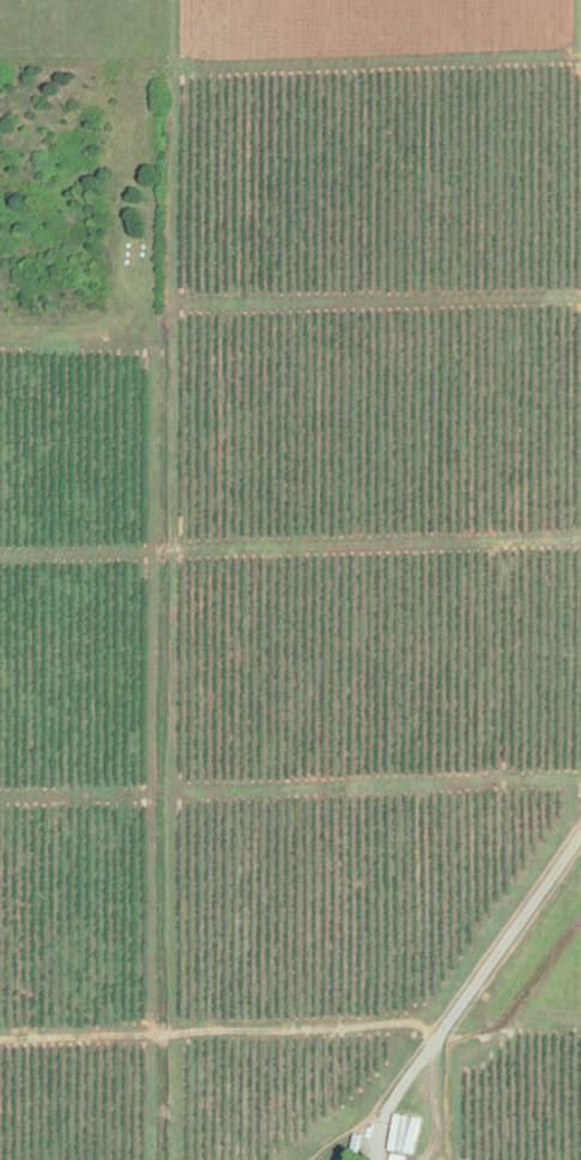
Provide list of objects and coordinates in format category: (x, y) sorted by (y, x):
road: (479, 984)

